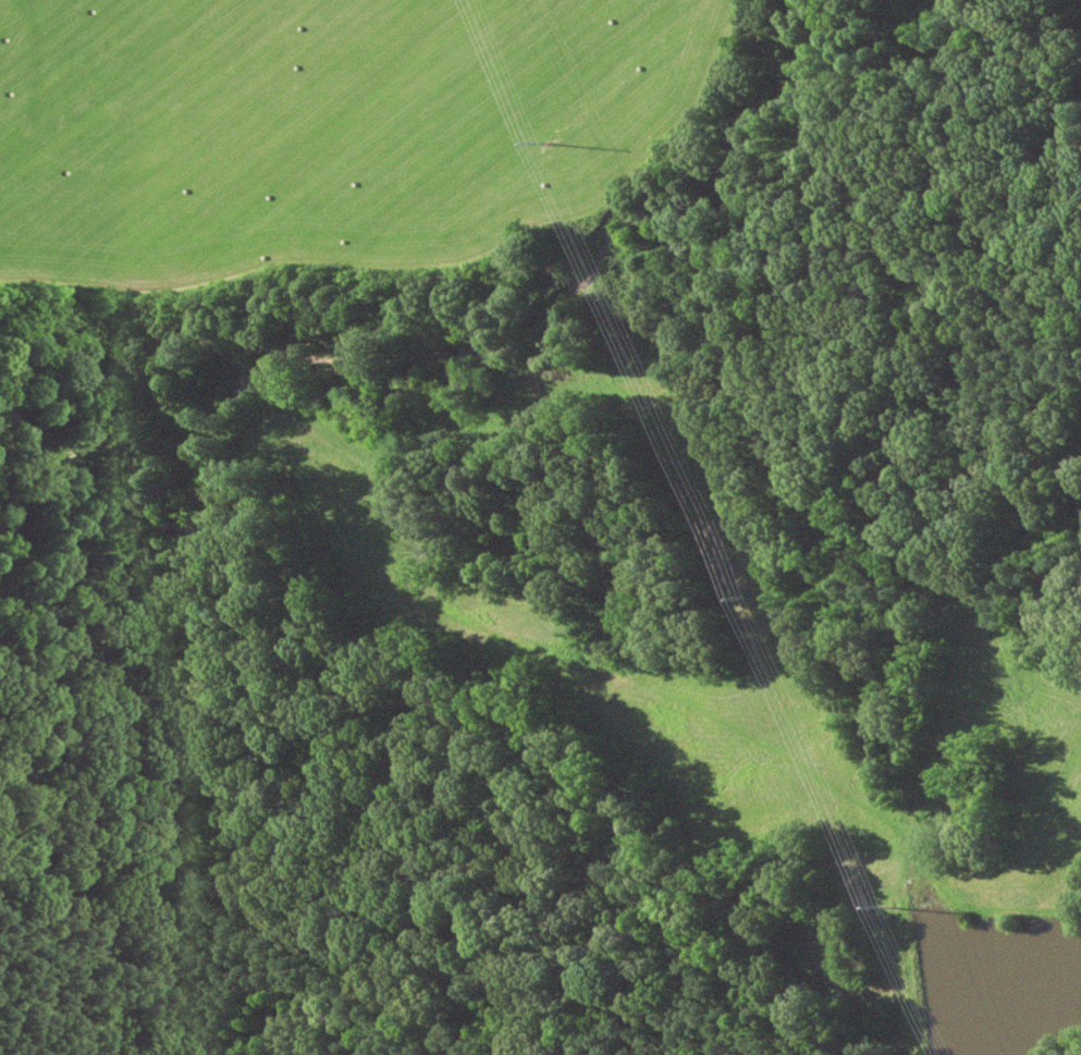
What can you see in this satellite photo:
road: (1066, 30)

